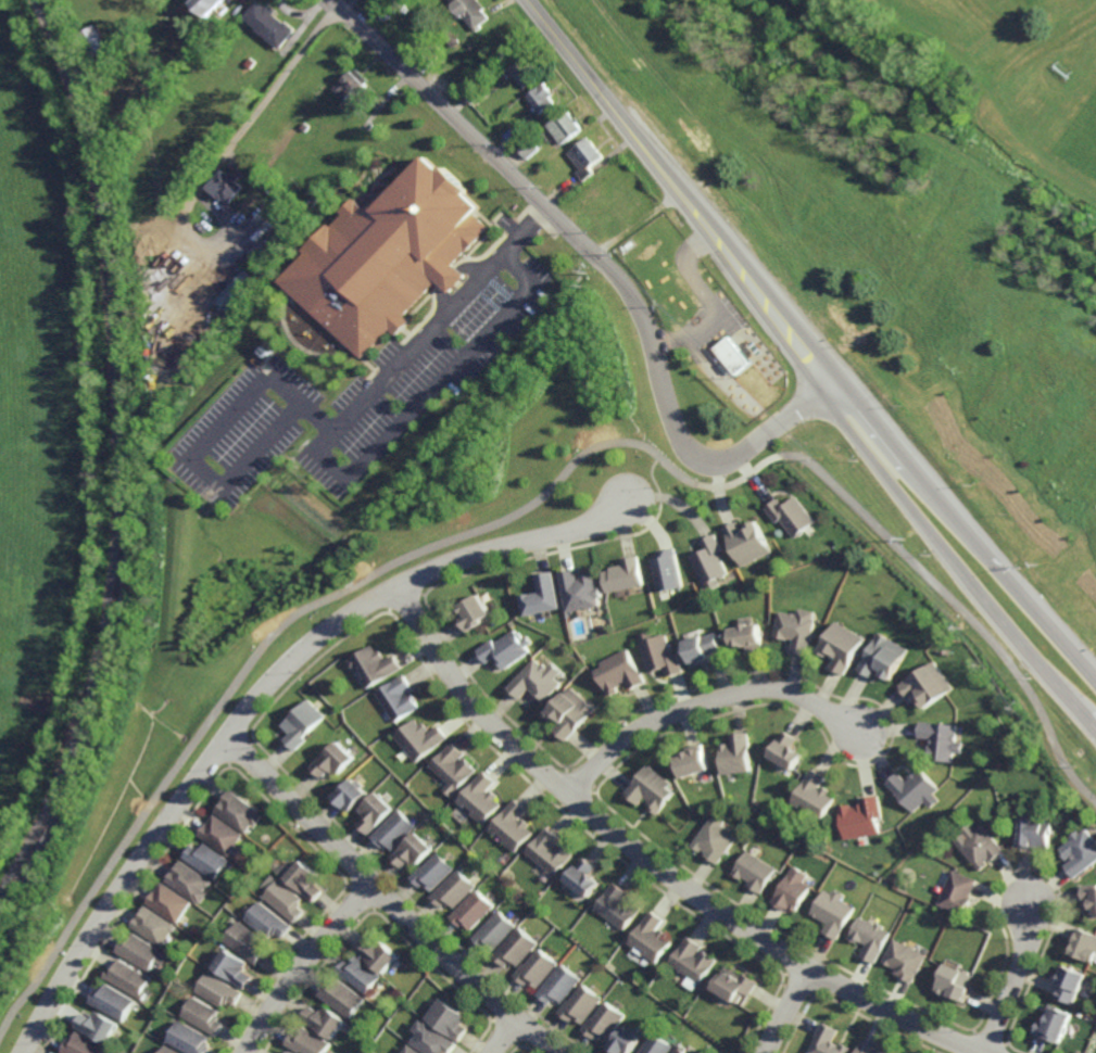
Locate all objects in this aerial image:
building: (205, 5)
building: (471, 11)
building: (268, 22)
building: (96, 40)
building: (425, 61)
building: (249, 62)
building: (524, 71)
building: (352, 83)
building: (475, 93)
building: (543, 98)
building: (304, 125)
building: (565, 125)
building: (528, 126)
road: (239, 132)
building: (514, 134)
building: (538, 134)
building: (528, 145)
building: (587, 156)
building: (224, 185)
road: (677, 194)
park: (929, 195)
building: (597, 196)
building: (311, 202)
building: (629, 211)
building: (388, 255)
building: (255, 267)
road: (609, 268)
building: (578, 278)
building: (237, 291)
building: (734, 354)
building: (266, 358)
road: (204, 443)
railway: (121, 458)
road: (322, 458)
road: (722, 472)
road: (651, 479)
road: (529, 504)
building: (791, 516)
road: (965, 520)
building: (746, 540)
road: (956, 556)
building: (709, 560)
building: (666, 568)
building: (622, 573)
building: (579, 587)
building: (542, 593)
building: (473, 610)
building: (311, 613)
building: (656, 618)
building: (491, 621)
building: (606, 625)
building: (794, 627)
building: (745, 632)
building: (840, 644)
building: (703, 646)
building: (505, 648)
building: (659, 651)
building: (881, 655)
building: (374, 663)
building: (619, 670)
building: (537, 678)
building: (927, 683)
road: (266, 689)
building: (398, 696)
road: (705, 699)
building: (569, 710)
building: (302, 722)
building: (421, 737)
building: (940, 738)
building: (784, 749)
building: (736, 752)
building: (333, 758)
building: (693, 759)
building: (454, 765)
building: (420, 772)
building: (393, 776)
building: (914, 787)
building: (652, 788)
building: (351, 792)
building: (812, 794)
building: (482, 796)
building: (239, 811)
building: (375, 811)
building: (861, 816)
building: (514, 825)
building: (393, 829)
building: (1033, 829)
building: (222, 833)
building: (717, 838)
building: (979, 843)
building: (413, 849)
building: (550, 850)
building: (1080, 851)
building: (305, 857)
building: (206, 858)
road: (656, 864)
building: (753, 870)
building: (432, 871)
building: (583, 876)
building: (304, 877)
building: (190, 880)
building: (884, 881)
building: (454, 889)
building: (791, 889)
building: (957, 891)
building: (916, 895)
road: (393, 897)
building: (1089, 897)
building: (287, 899)
building: (169, 901)
building: (618, 905)
building: (474, 910)
building: (832, 911)
building: (534, 912)
building: (269, 921)
building: (953, 921)
building: (154, 925)
building: (495, 930)
building: (652, 937)
building: (869, 937)
building: (249, 941)
building: (1084, 943)
building: (579, 946)
building: (517, 948)
building: (139, 950)
building: (377, 953)
building: (904, 959)
building: (694, 960)
road: (305, 962)
building: (612, 966)
building: (236, 967)
building: (538, 968)
building: (360, 973)
building: (129, 977)
road: (1015, 980)
building: (621, 981)
building: (954, 981)
building: (1070, 982)
building: (734, 984)
building: (560, 985)
building: (657, 989)
building: (219, 990)
building: (343, 997)
building: (404, 997)
building: (113, 1001)
building: (582, 1004)
road: (779, 1008)
building: (660, 1012)
building: (204, 1015)
building: (668, 1016)
building: (449, 1019)
building: (325, 1020)
building: (605, 1022)
building: (1051, 1024)
building: (97, 1026)
road: (503, 1033)
building: (190, 1039)
building: (432, 1039)
building: (626, 1040)
building: (308, 1041)
building: (371, 1041)
building: (827, 1042)
building: (80, 1045)
building: (658, 1045)
building: (708, 1046)
building: (682, 1049)
building: (867, 1049)
building: (168, 1050)
building: (411, 1050)
building: (290, 1052)

